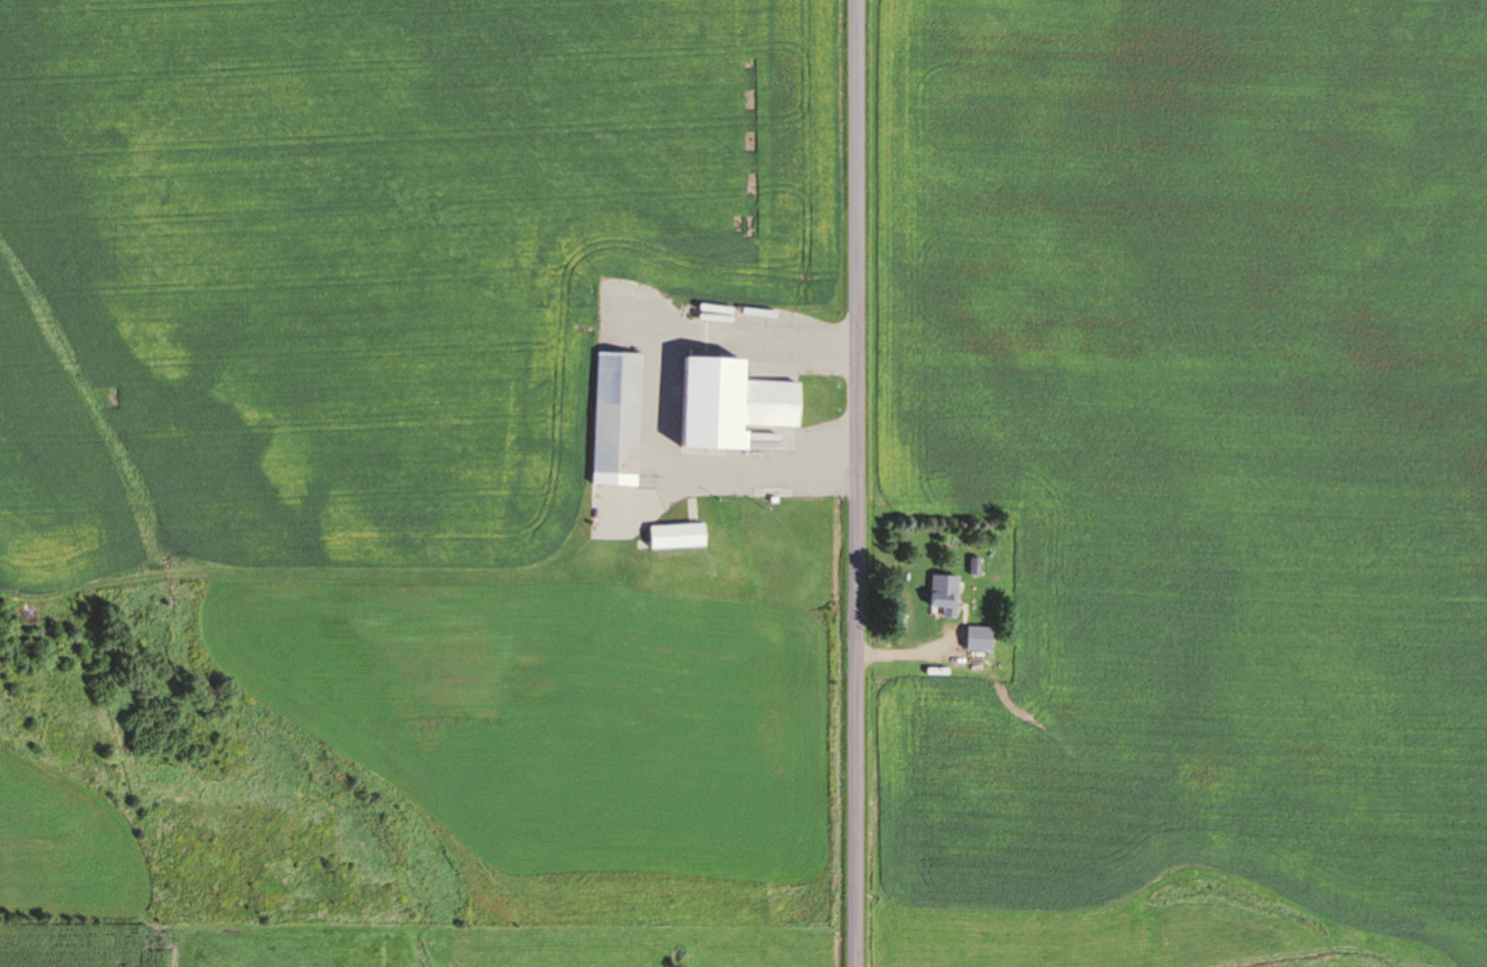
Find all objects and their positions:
building: (731, 404)
building: (617, 420)
road: (858, 483)
building: (677, 537)
building: (947, 595)
building: (976, 643)

